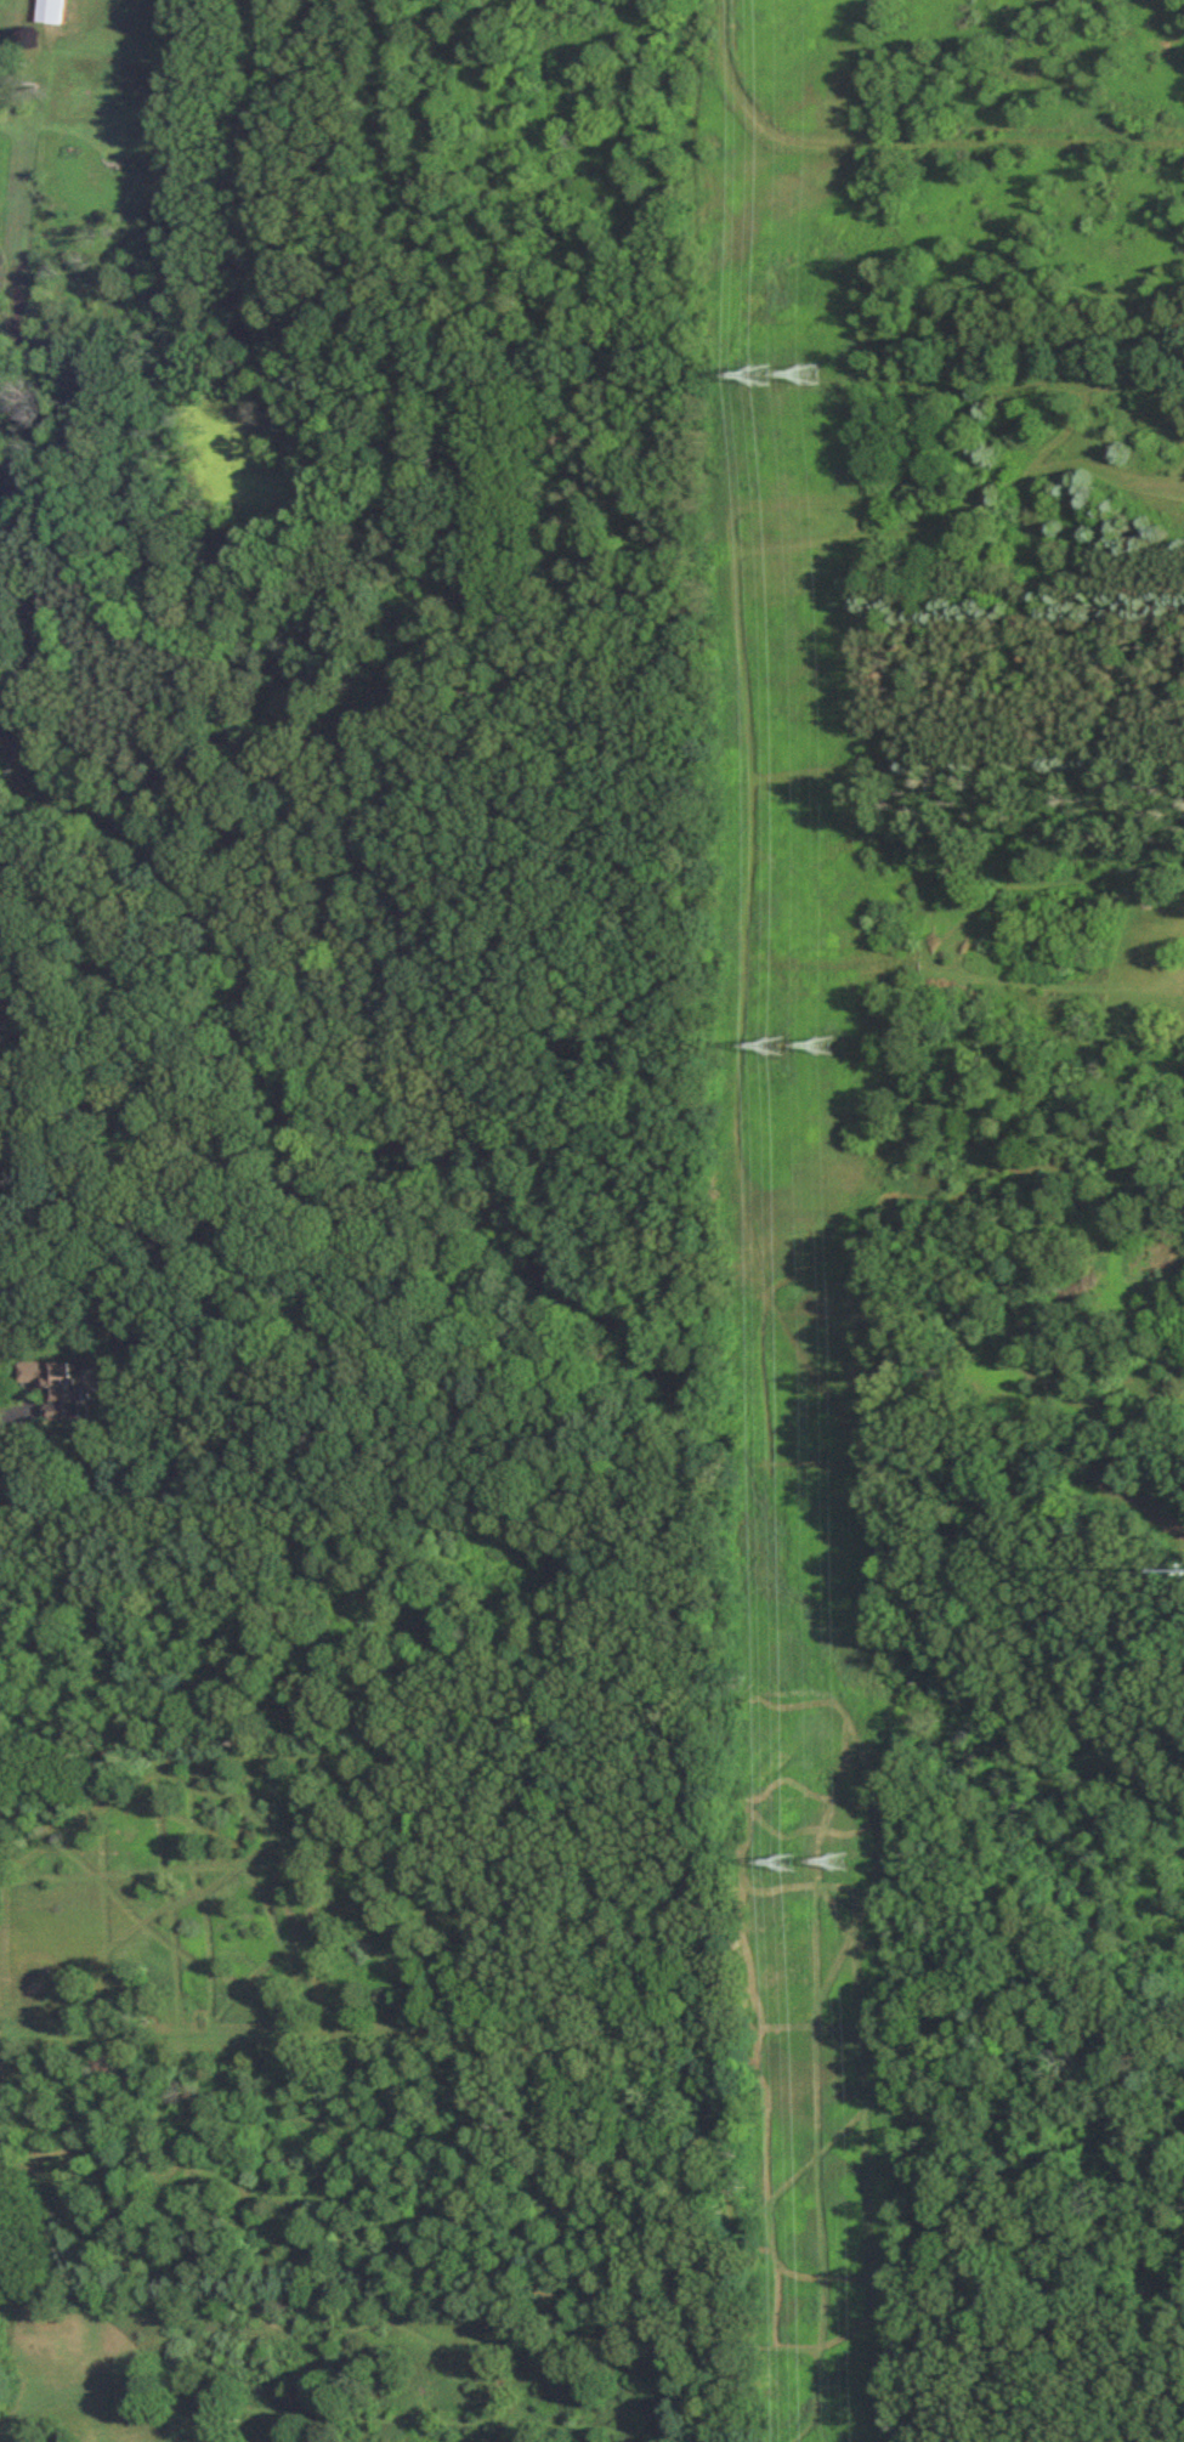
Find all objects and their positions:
building: (51, 10)
power tower: (812, 375)
power tower: (761, 376)
power tower: (776, 1047)
power tower: (826, 1047)
building: (60, 1384)
road: (13, 1412)
power tower: (844, 1863)
power tower: (793, 1864)

